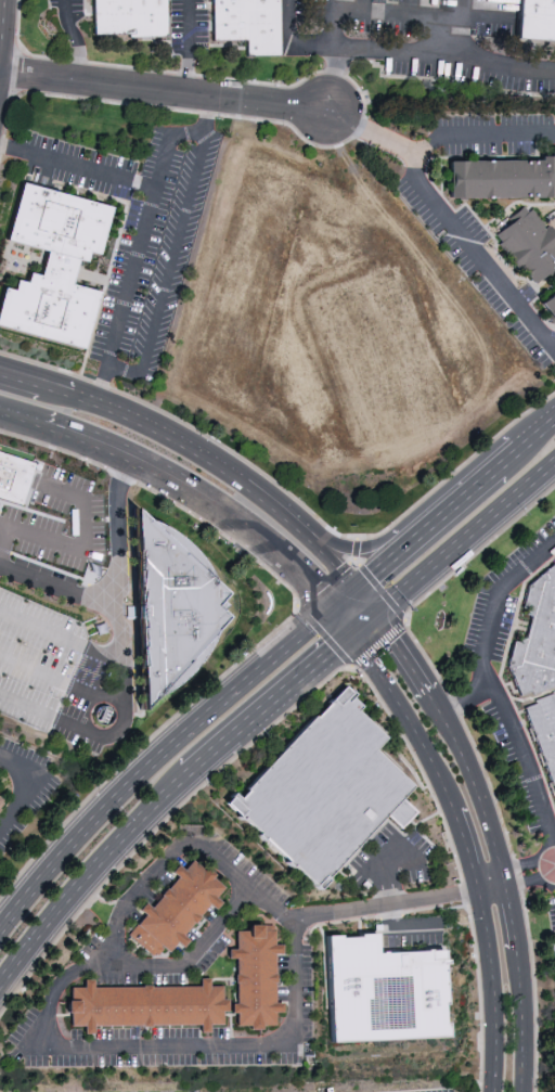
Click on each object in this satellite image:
parking lot: (387, 2)
parking lot: (52, 3)
parking lot: (444, 4)
road: (361, 5)
road: (409, 7)
parking lot: (76, 9)
parking lot: (317, 11)
parking lot: (299, 13)
road: (396, 13)
building: (129, 18)
parking lot: (201, 24)
building: (247, 24)
road: (334, 24)
building: (538, 24)
parking lot: (176, 27)
parking lot: (378, 27)
road: (456, 29)
parking lot: (493, 30)
road: (75, 39)
road: (3, 42)
road: (292, 43)
road: (189, 47)
road: (414, 55)
parking lot: (467, 76)
road: (159, 91)
road: (362, 113)
road: (360, 125)
road: (468, 160)
road: (77, 166)
road: (441, 180)
building: (503, 187)
road: (421, 190)
road: (517, 209)
parking lot: (492, 216)
road: (140, 233)
road: (498, 245)
building: (531, 248)
building: (53, 265)
road: (167, 269)
road: (550, 296)
building: (551, 313)
road: (27, 378)
road: (21, 415)
road: (537, 436)
road: (198, 450)
road: (508, 460)
building: (11, 477)
road: (199, 492)
road: (292, 498)
road: (459, 502)
parking lot: (56, 523)
road: (469, 541)
road: (7, 545)
road: (372, 545)
road: (88, 548)
road: (391, 558)
road: (345, 563)
road: (116, 581)
road: (372, 581)
traffic signals: (363, 582)
road: (347, 593)
road: (373, 598)
traffic signals: (332, 604)
parking lot: (39, 613)
traffic signals: (384, 613)
building: (165, 614)
road: (345, 619)
road: (371, 624)
road: (493, 629)
road: (274, 630)
road: (324, 635)
traffic signals: (358, 635)
building: (538, 647)
road: (87, 648)
road: (408, 653)
parking lot: (51, 656)
road: (124, 676)
parking lot: (33, 688)
road: (274, 705)
road: (126, 715)
parking lot: (49, 728)
building: (545, 741)
road: (470, 749)
road: (156, 758)
road: (527, 768)
road: (476, 782)
road: (33, 784)
building: (327, 792)
building: (2, 804)
road: (472, 849)
road: (156, 861)
road: (530, 873)
road: (91, 875)
road: (494, 881)
road: (391, 907)
building: (172, 908)
road: (513, 910)
building: (376, 992)
building: (139, 1006)
road: (521, 1017)
road: (142, 1046)

